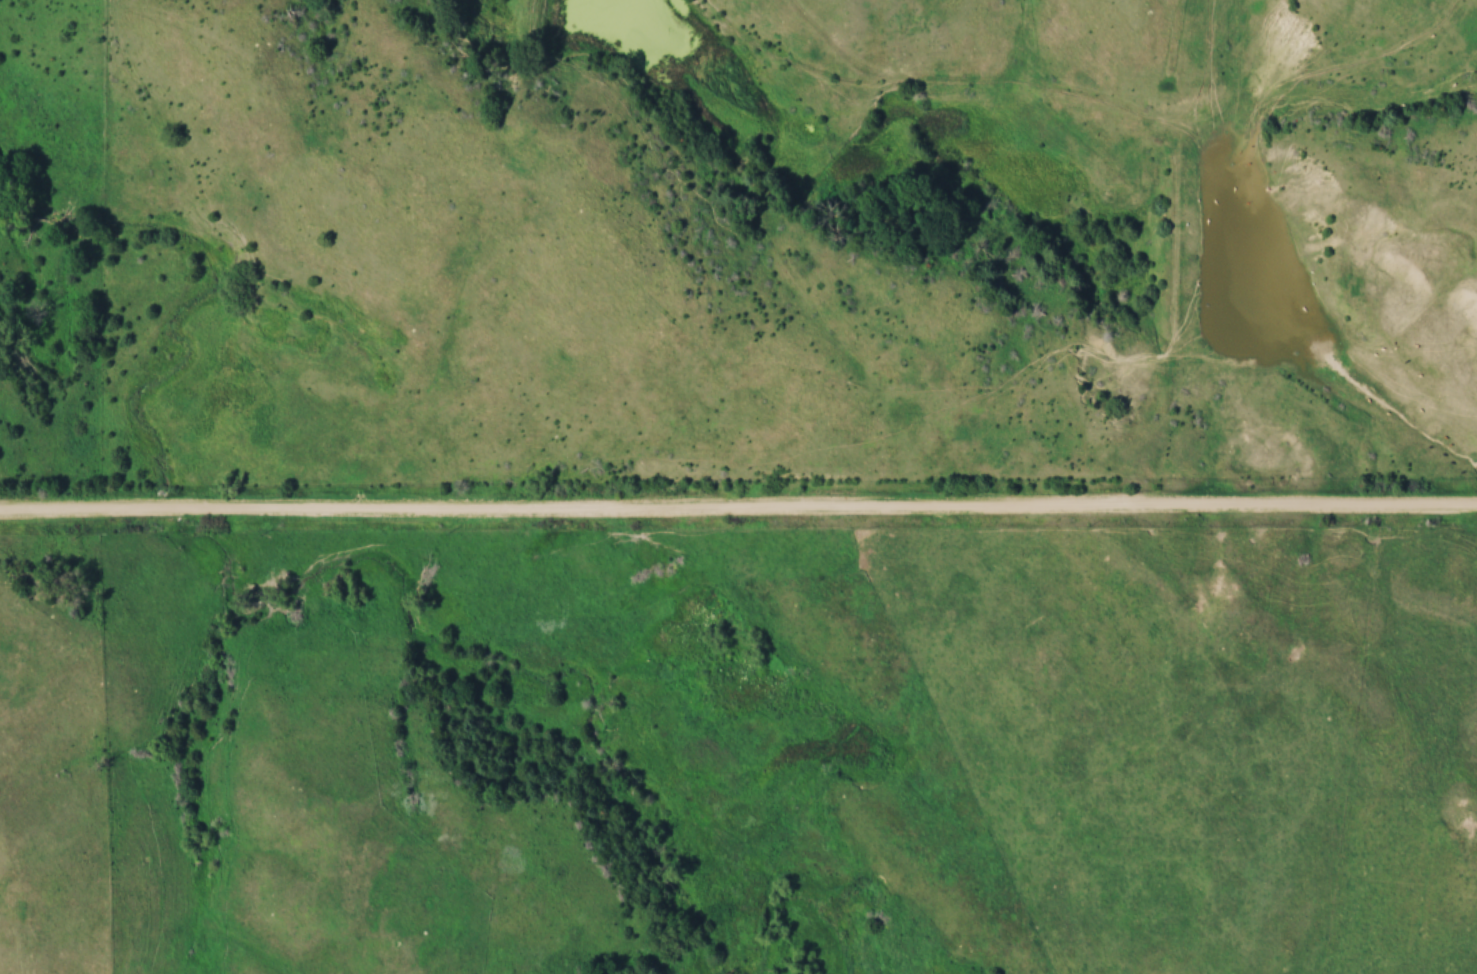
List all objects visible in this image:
road: (738, 513)

